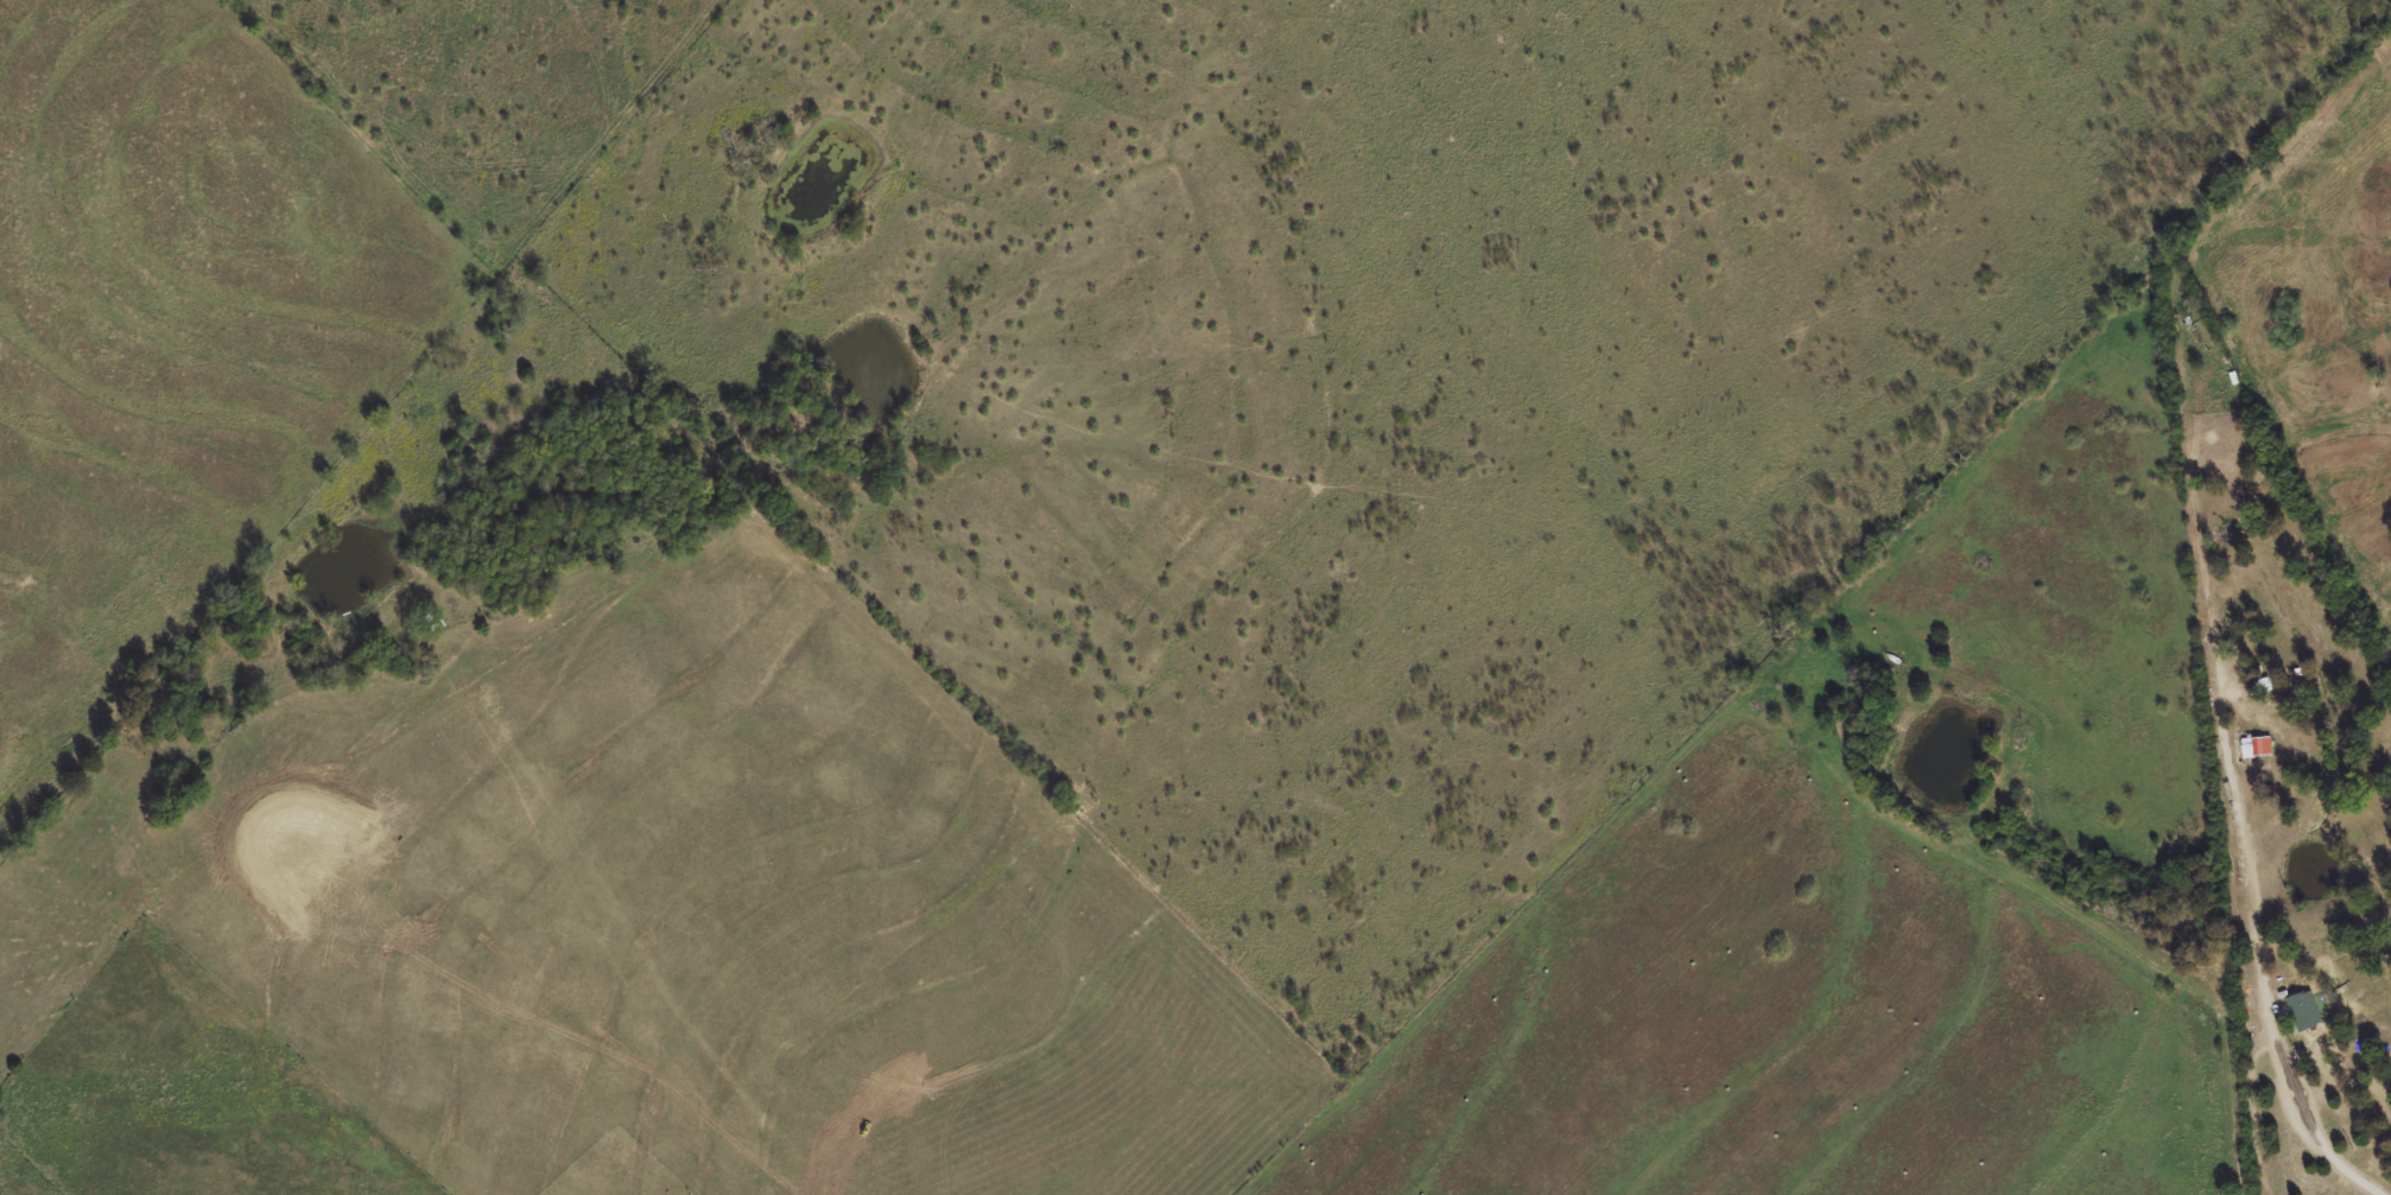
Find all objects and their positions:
road: (2320, 1125)

